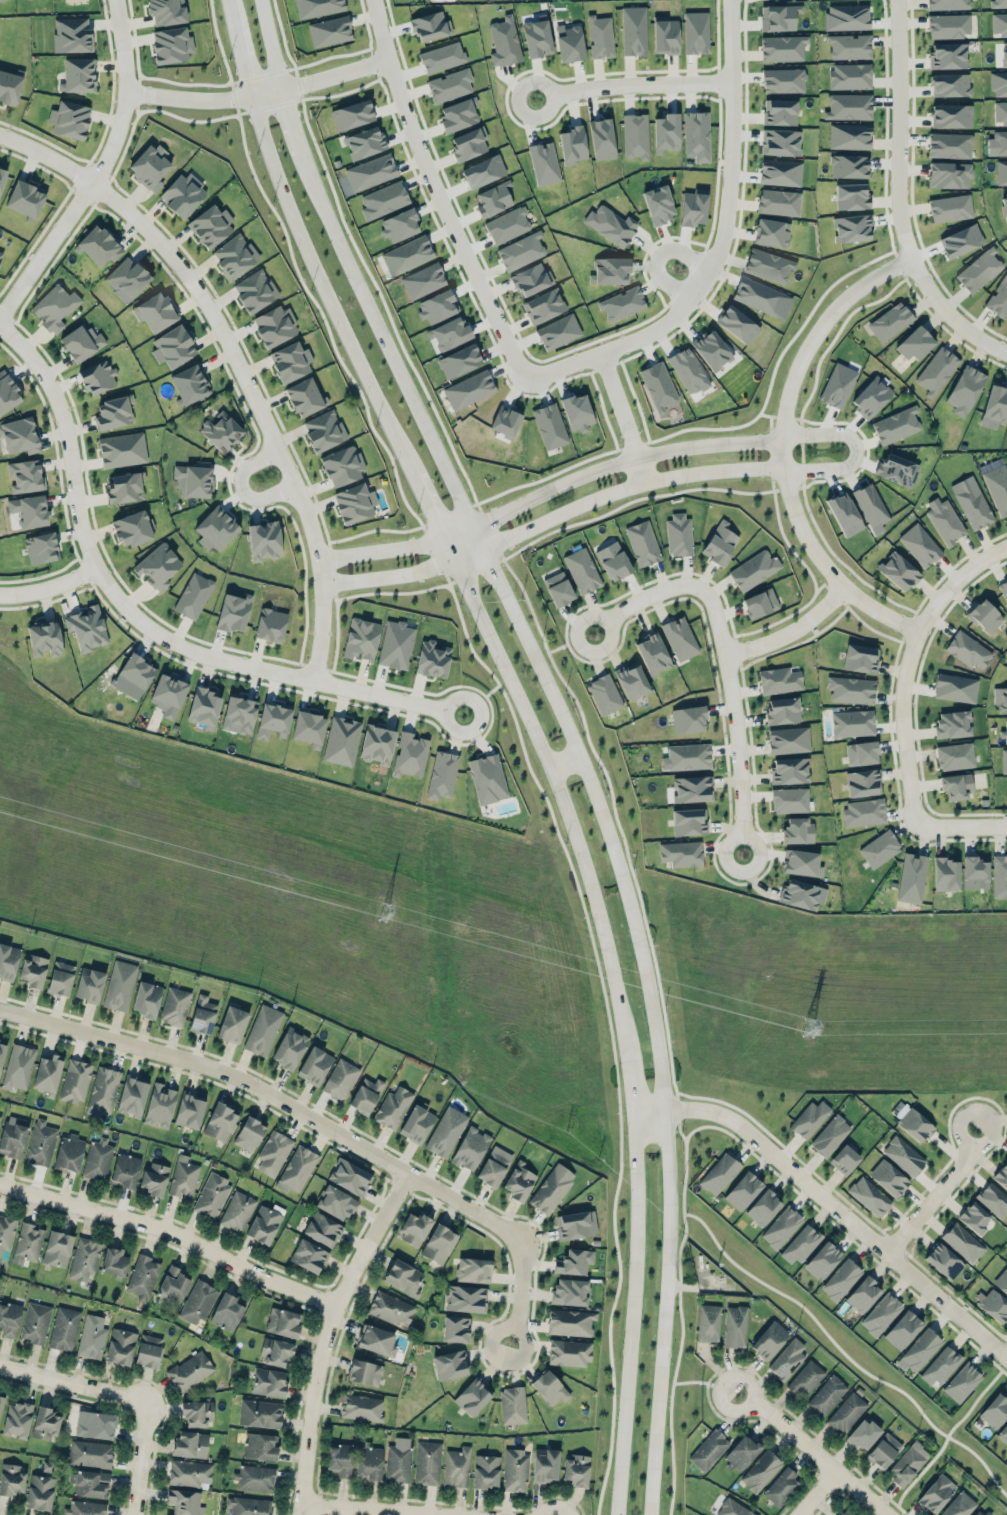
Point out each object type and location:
building: (999, 3)
building: (947, 4)
building: (317, 7)
building: (166, 11)
building: (778, 17)
building: (846, 17)
building: (948, 25)
building: (430, 26)
road: (376, 29)
building: (633, 30)
building: (330, 31)
building: (696, 32)
building: (72, 35)
building: (665, 35)
building: (600, 36)
building: (537, 37)
building: (504, 42)
road: (267, 44)
building: (570, 44)
building: (171, 45)
building: (849, 46)
road: (238, 48)
building: (782, 48)
building: (1004, 54)
building: (947, 55)
building: (442, 57)
road: (327, 74)
building: (78, 75)
building: (850, 76)
building: (783, 80)
building: (449, 85)
building: (950, 85)
building: (9, 86)
road: (626, 86)
road: (201, 99)
building: (848, 106)
building: (779, 112)
building: (1000, 113)
building: (352, 114)
building: (458, 114)
building: (951, 115)
building: (69, 119)
road: (285, 121)
road: (900, 131)
building: (666, 133)
building: (696, 135)
building: (635, 136)
building: (849, 136)
building: (601, 139)
building: (365, 142)
building: (780, 142)
building: (468, 143)
building: (572, 145)
building: (949, 145)
building: (543, 163)
building: (150, 166)
building: (848, 166)
building: (483, 171)
road: (99, 172)
building: (371, 172)
building: (780, 172)
building: (1001, 172)
building: (949, 175)
building: (2, 176)
building: (183, 194)
building: (851, 196)
building: (25, 198)
building: (383, 200)
building: (493, 200)
building: (778, 202)
building: (658, 204)
building: (693, 207)
building: (1004, 207)
building: (950, 208)
road: (442, 219)
building: (399, 225)
building: (507, 225)
building: (611, 225)
building: (211, 226)
building: (852, 228)
building: (771, 232)
building: (961, 240)
building: (98, 246)
road: (713, 246)
building: (521, 251)
building: (0, 253)
road: (658, 254)
building: (234, 255)
building: (407, 255)
building: (768, 265)
building: (610, 270)
building: (979, 270)
building: (126, 279)
building: (531, 279)
building: (423, 280)
road: (323, 288)
building: (255, 290)
building: (758, 295)
building: (999, 297)
building: (622, 304)
building: (437, 306)
building: (543, 306)
building: (55, 307)
building: (155, 311)
road: (951, 315)
building: (890, 321)
building: (737, 324)
building: (275, 325)
building: (558, 331)
building: (449, 333)
building: (81, 342)
building: (916, 343)
building: (173, 346)
building: (712, 349)
road: (237, 361)
building: (290, 361)
building: (459, 361)
building: (688, 371)
building: (936, 371)
building: (97, 377)
building: (189, 384)
building: (837, 385)
building: (658, 386)
building: (469, 389)
building: (965, 390)
building: (7, 392)
building: (871, 396)
building: (305, 397)
building: (996, 403)
building: (113, 412)
building: (576, 412)
road: (619, 418)
building: (505, 421)
building: (550, 425)
building: (896, 425)
building: (324, 430)
building: (221, 431)
building: (20, 435)
road: (784, 448)
building: (122, 449)
road: (856, 450)
building: (342, 465)
building: (894, 469)
building: (25, 476)
building: (194, 479)
building: (125, 487)
building: (997, 487)
road: (242, 488)
road: (550, 491)
building: (972, 502)
building: (354, 503)
road: (429, 505)
building: (870, 505)
building: (29, 510)
building: (844, 514)
road: (552, 518)
building: (944, 520)
building: (133, 527)
building: (216, 529)
building: (678, 533)
building: (264, 540)
building: (643, 543)
building: (720, 543)
building: (920, 545)
building: (41, 547)
road: (449, 548)
building: (613, 560)
building: (157, 566)
building: (582, 570)
building: (754, 570)
building: (898, 571)
road: (956, 583)
road: (50, 587)
building: (1004, 587)
building: (558, 589)
building: (193, 595)
road: (642, 599)
building: (760, 603)
building: (234, 612)
building: (984, 616)
road: (142, 620)
building: (270, 624)
building: (87, 627)
road: (792, 632)
building: (44, 638)
building: (361, 638)
building: (680, 638)
building: (395, 645)
building: (967, 649)
building: (652, 653)
building: (860, 658)
building: (432, 659)
building: (136, 672)
building: (632, 680)
building: (780, 680)
building: (955, 687)
building: (851, 689)
building: (604, 694)
building: (168, 695)
building: (1000, 698)
building: (204, 707)
building: (782, 710)
building: (239, 713)
road: (736, 716)
building: (688, 719)
building: (273, 720)
building: (852, 723)
building: (953, 723)
building: (309, 728)
road: (904, 729)
building: (1004, 733)
building: (341, 740)
building: (788, 740)
building: (377, 744)
building: (861, 753)
building: (410, 754)
building: (955, 756)
building: (686, 757)
building: (1004, 761)
building: (789, 770)
building: (442, 775)
building: (488, 778)
building: (863, 782)
building: (956, 785)
road: (558, 788)
building: (692, 788)
building: (790, 800)
road: (598, 804)
building: (864, 812)
building: (689, 821)
road: (962, 826)
building: (798, 831)
building: (880, 848)
building: (681, 853)
building: (801, 862)
building: (975, 872)
building: (946, 874)
building: (999, 876)
building: (912, 877)
building: (800, 894)
power tower: (380, 909)
building: (8, 961)
building: (32, 971)
building: (60, 978)
building: (89, 984)
building: (119, 985)
building: (146, 999)
building: (175, 1006)
building: (202, 1014)
building: (232, 1024)
power tower: (837, 1029)
building: (262, 1030)
building: (289, 1048)
building: (2, 1051)
building: (314, 1065)
building: (18, 1066)
road: (628, 1073)
building: (47, 1074)
building: (341, 1079)
building: (75, 1081)
building: (103, 1089)
building: (365, 1094)
building: (132, 1095)
road: (277, 1097)
building: (159, 1105)
building: (392, 1107)
building: (189, 1109)
building: (0, 1113)
building: (810, 1118)
building: (219, 1121)
building: (417, 1122)
building: (913, 1122)
building: (445, 1131)
building: (249, 1134)
building: (830, 1135)
building: (13, 1136)
building: (41, 1142)
building: (470, 1148)
building: (273, 1152)
building: (69, 1153)
building: (903, 1155)
building: (97, 1159)
building: (844, 1159)
building: (494, 1166)
building: (297, 1169)
building: (125, 1170)
building: (719, 1174)
building: (1001, 1175)
building: (183, 1177)
building: (350, 1177)
building: (889, 1177)
building: (154, 1179)
building: (519, 1181)
building: (551, 1188)
building: (743, 1190)
road: (938, 1192)
building: (211, 1195)
building: (869, 1196)
building: (993, 1199)
building: (335, 1202)
road: (831, 1205)
building: (763, 1207)
building: (237, 1211)
building: (974, 1217)
building: (263, 1224)
building: (576, 1224)
building: (781, 1227)
building: (322, 1229)
building: (415, 1229)
road: (172, 1231)
building: (6, 1232)
building: (962, 1242)
building: (27, 1243)
building: (438, 1243)
building: (801, 1244)
building: (57, 1248)
building: (308, 1256)
building: (1006, 1257)
building: (84, 1258)
building: (822, 1260)
building: (573, 1261)
building: (943, 1261)
building: (113, 1262)
building: (473, 1269)
building: (142, 1277)
building: (403, 1277)
building: (841, 1279)
building: (172, 1286)
building: (570, 1291)
building: (863, 1294)
building: (466, 1298)
road: (519, 1298)
building: (198, 1301)
building: (992, 1305)
building: (390, 1308)
building: (226, 1312)
building: (881, 1314)
road: (632, 1315)
building: (9, 1319)
building: (282, 1322)
building: (569, 1322)
building: (35, 1323)
building: (708, 1323)
building: (735, 1326)
building: (64, 1328)
building: (455, 1329)
building: (903, 1329)
road: (327, 1334)
building: (91, 1337)
building: (377, 1340)
building: (769, 1340)
building: (120, 1346)
building: (919, 1350)
building: (148, 1351)
building: (275, 1351)
building: (569, 1352)
building: (787, 1359)
building: (450, 1364)
building: (941, 1365)
building: (190, 1370)
building: (364, 1372)
building: (805, 1379)
building: (268, 1381)
building: (962, 1382)
building: (549, 1387)
building: (827, 1395)
building: (473, 1396)
road: (126, 1400)
building: (1, 1403)
building: (512, 1405)
building: (361, 1407)
building: (995, 1410)
building: (846, 1412)
building: (196, 1413)
building: (260, 1413)
building: (16, 1419)
building: (44, 1424)
building: (94, 1424)
building: (863, 1433)
building: (1003, 1434)
building: (190, 1444)
building: (260, 1446)
building: (709, 1449)
building: (883, 1450)
road: (810, 1452)
building: (90, 1453)
building: (741, 1454)
building: (339, 1459)
building: (398, 1460)
building: (368, 1462)
building: (427, 1462)
building: (908, 1462)
building: (545, 1465)
building: (47, 1466)
building: (457, 1466)
building: (576, 1469)
building: (515, 1470)
building: (485, 1471)
building: (760, 1471)
building: (189, 1473)
building: (255, 1478)
building: (11, 1479)
building: (89, 1483)
building: (781, 1487)
building: (39, 1492)
road: (815, 1492)
building: (936, 1492)
building: (184, 1501)
building: (959, 1505)
building: (248, 1506)
building: (84, 1508)
building: (733, 1508)
road: (373, 1510)
building: (847, 1511)
building: (979, 1512)

